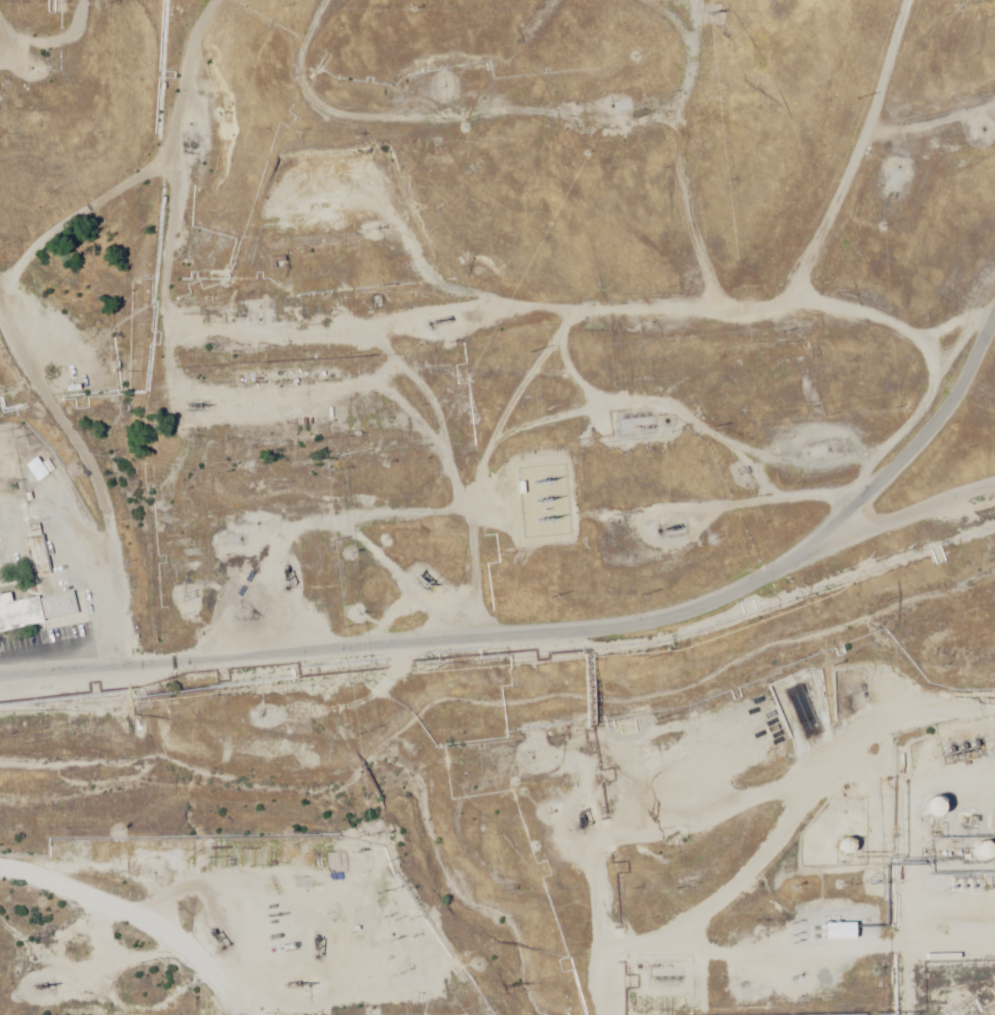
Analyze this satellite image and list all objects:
road: (66, 56)
road: (316, 63)
road: (92, 117)
road: (466, 127)
road: (893, 151)
road: (649, 187)
road: (512, 300)
road: (857, 301)
road: (70, 317)
building: (637, 423)
building: (38, 469)
road: (523, 534)
road: (899, 541)
building: (36, 611)
road: (563, 639)
road: (91, 646)
road: (598, 816)
road: (92, 819)
road: (511, 877)
road: (785, 953)
road: (86, 964)

